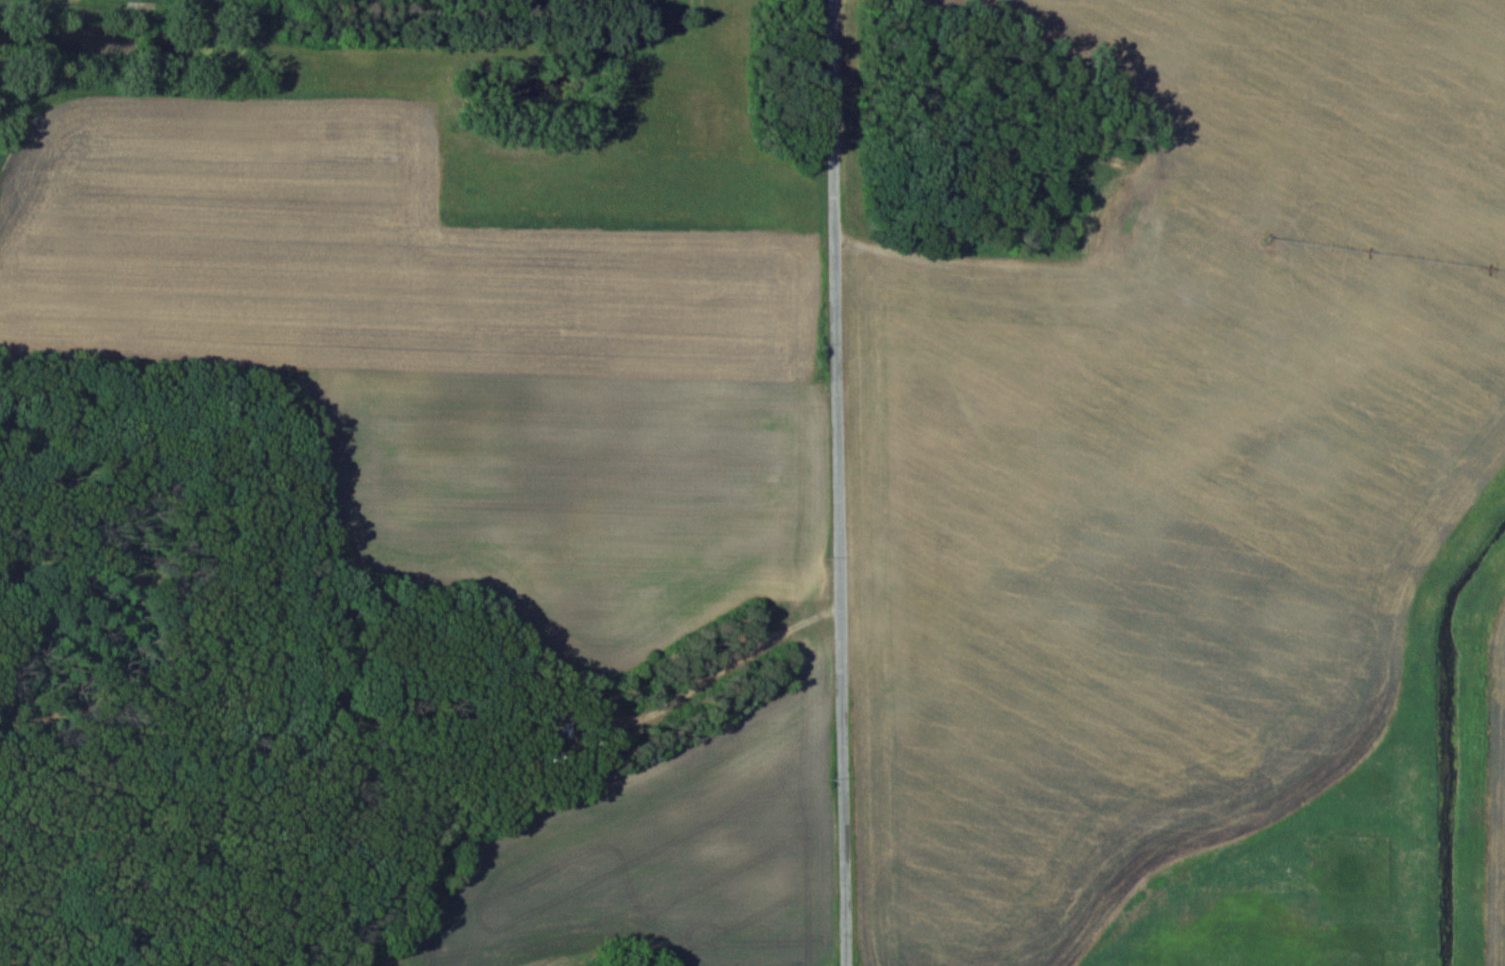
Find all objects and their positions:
road: (843, 483)

